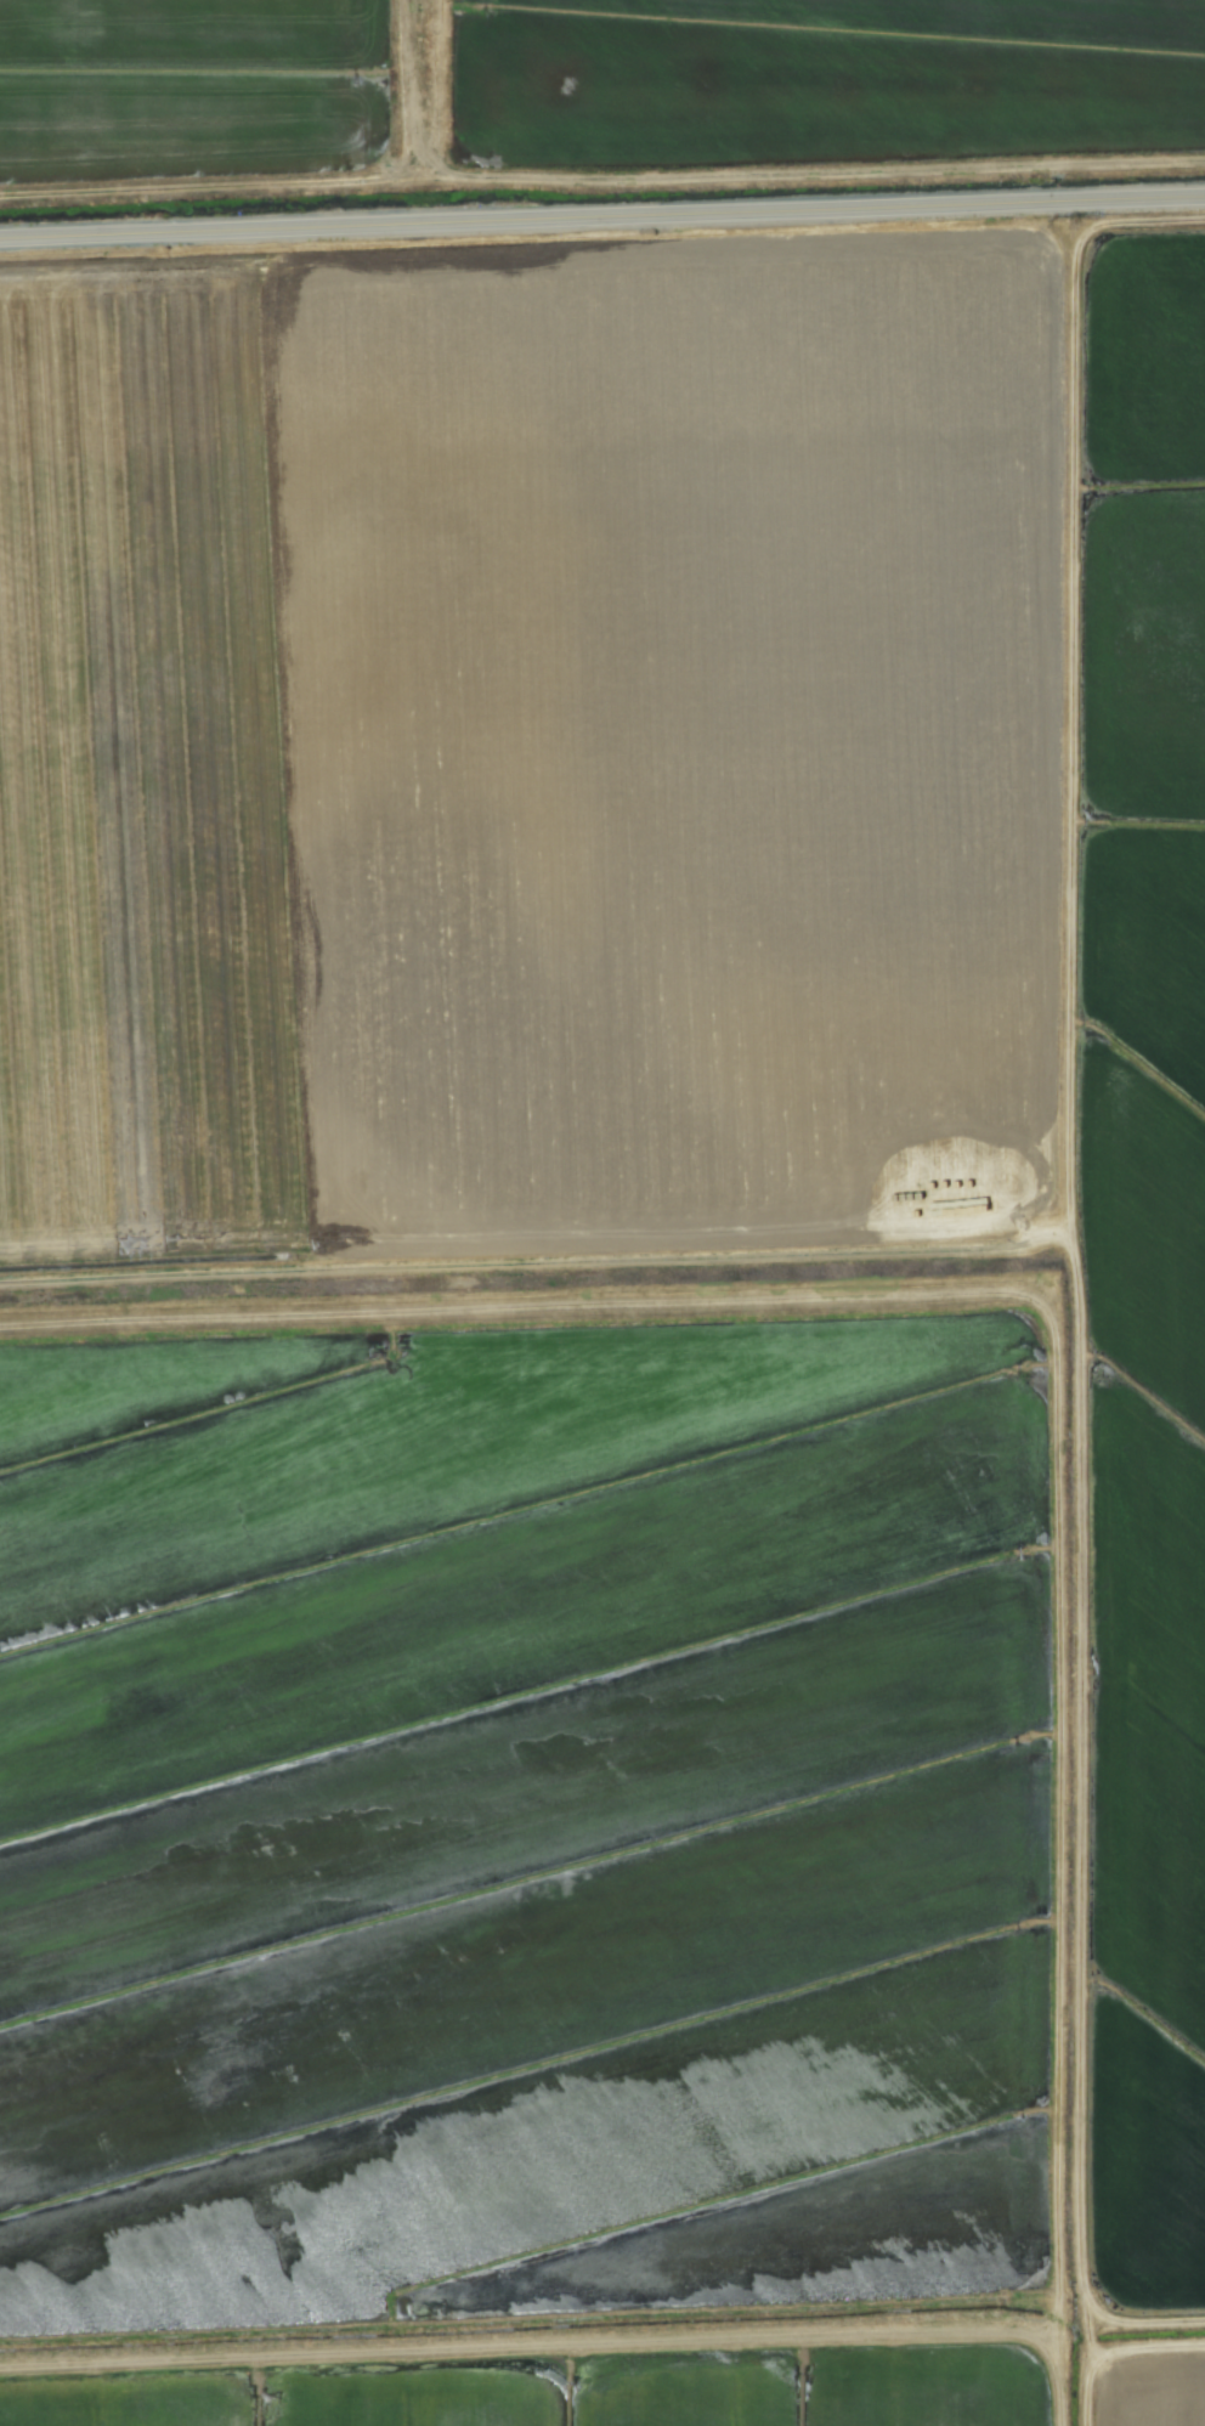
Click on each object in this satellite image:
road: (602, 217)

